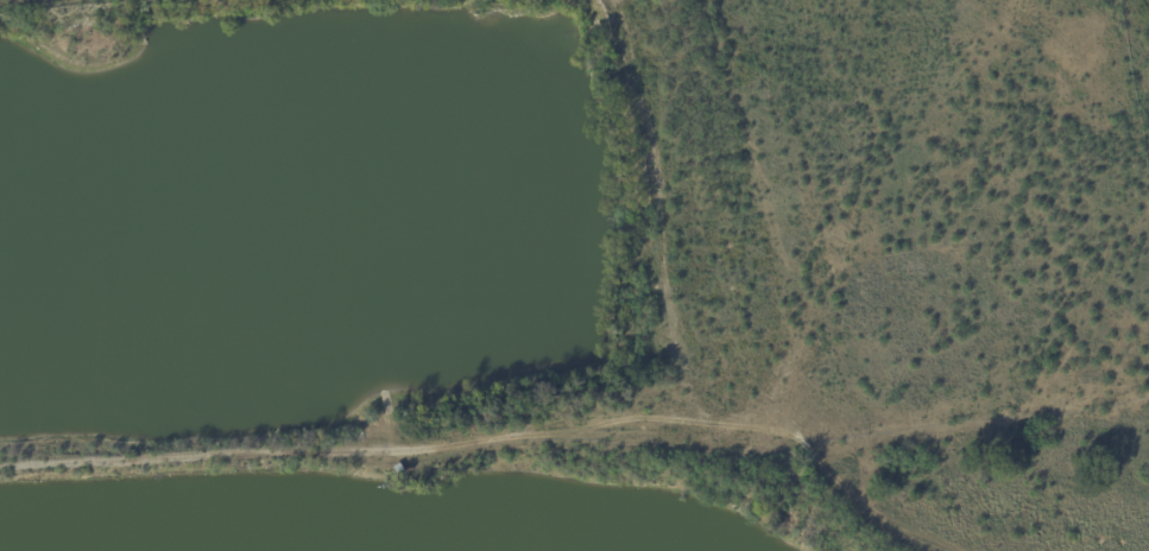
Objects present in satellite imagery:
building: (396, 468)

